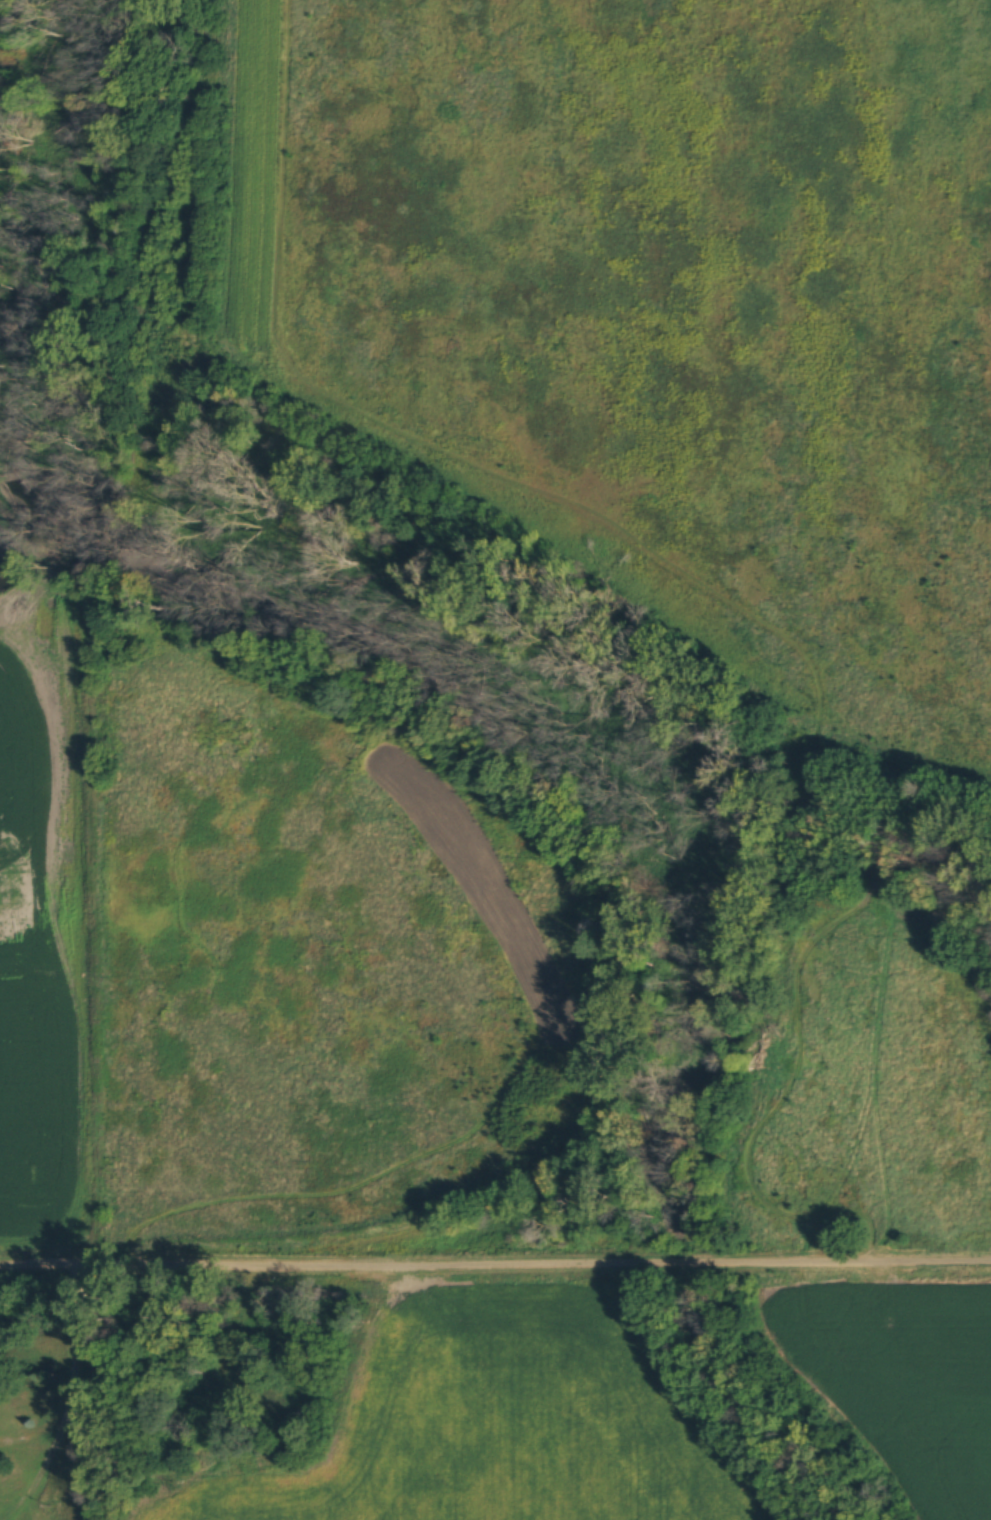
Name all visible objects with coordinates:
road: (495, 1266)

